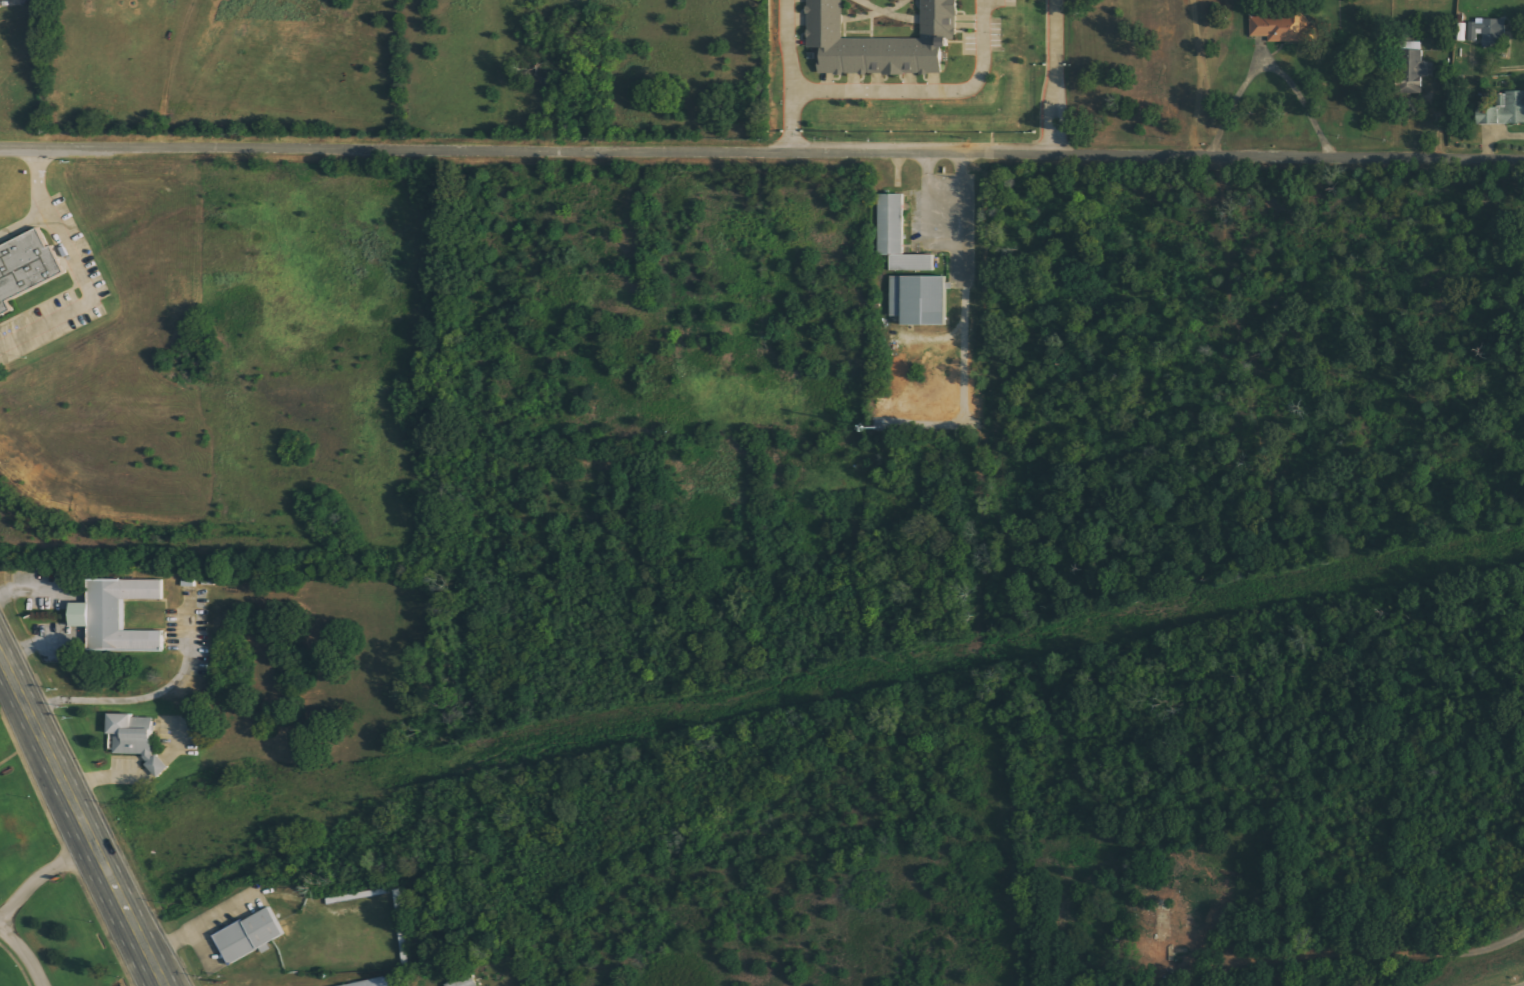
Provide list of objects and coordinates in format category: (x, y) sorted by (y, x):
building: (0, 11)
building: (1284, 27)
road: (1058, 30)
building: (1489, 31)
building: (1462, 32)
building: (881, 35)
building: (1415, 69)
road: (793, 77)
road: (935, 97)
road: (1057, 108)
building: (1504, 110)
road: (762, 154)
building: (25, 266)
building: (911, 271)
building: (118, 615)
building: (134, 740)
road: (41, 743)
road: (40, 876)
road: (122, 906)
building: (250, 937)
building: (1160, 950)
road: (24, 954)
building: (464, 981)
building: (380, 983)

